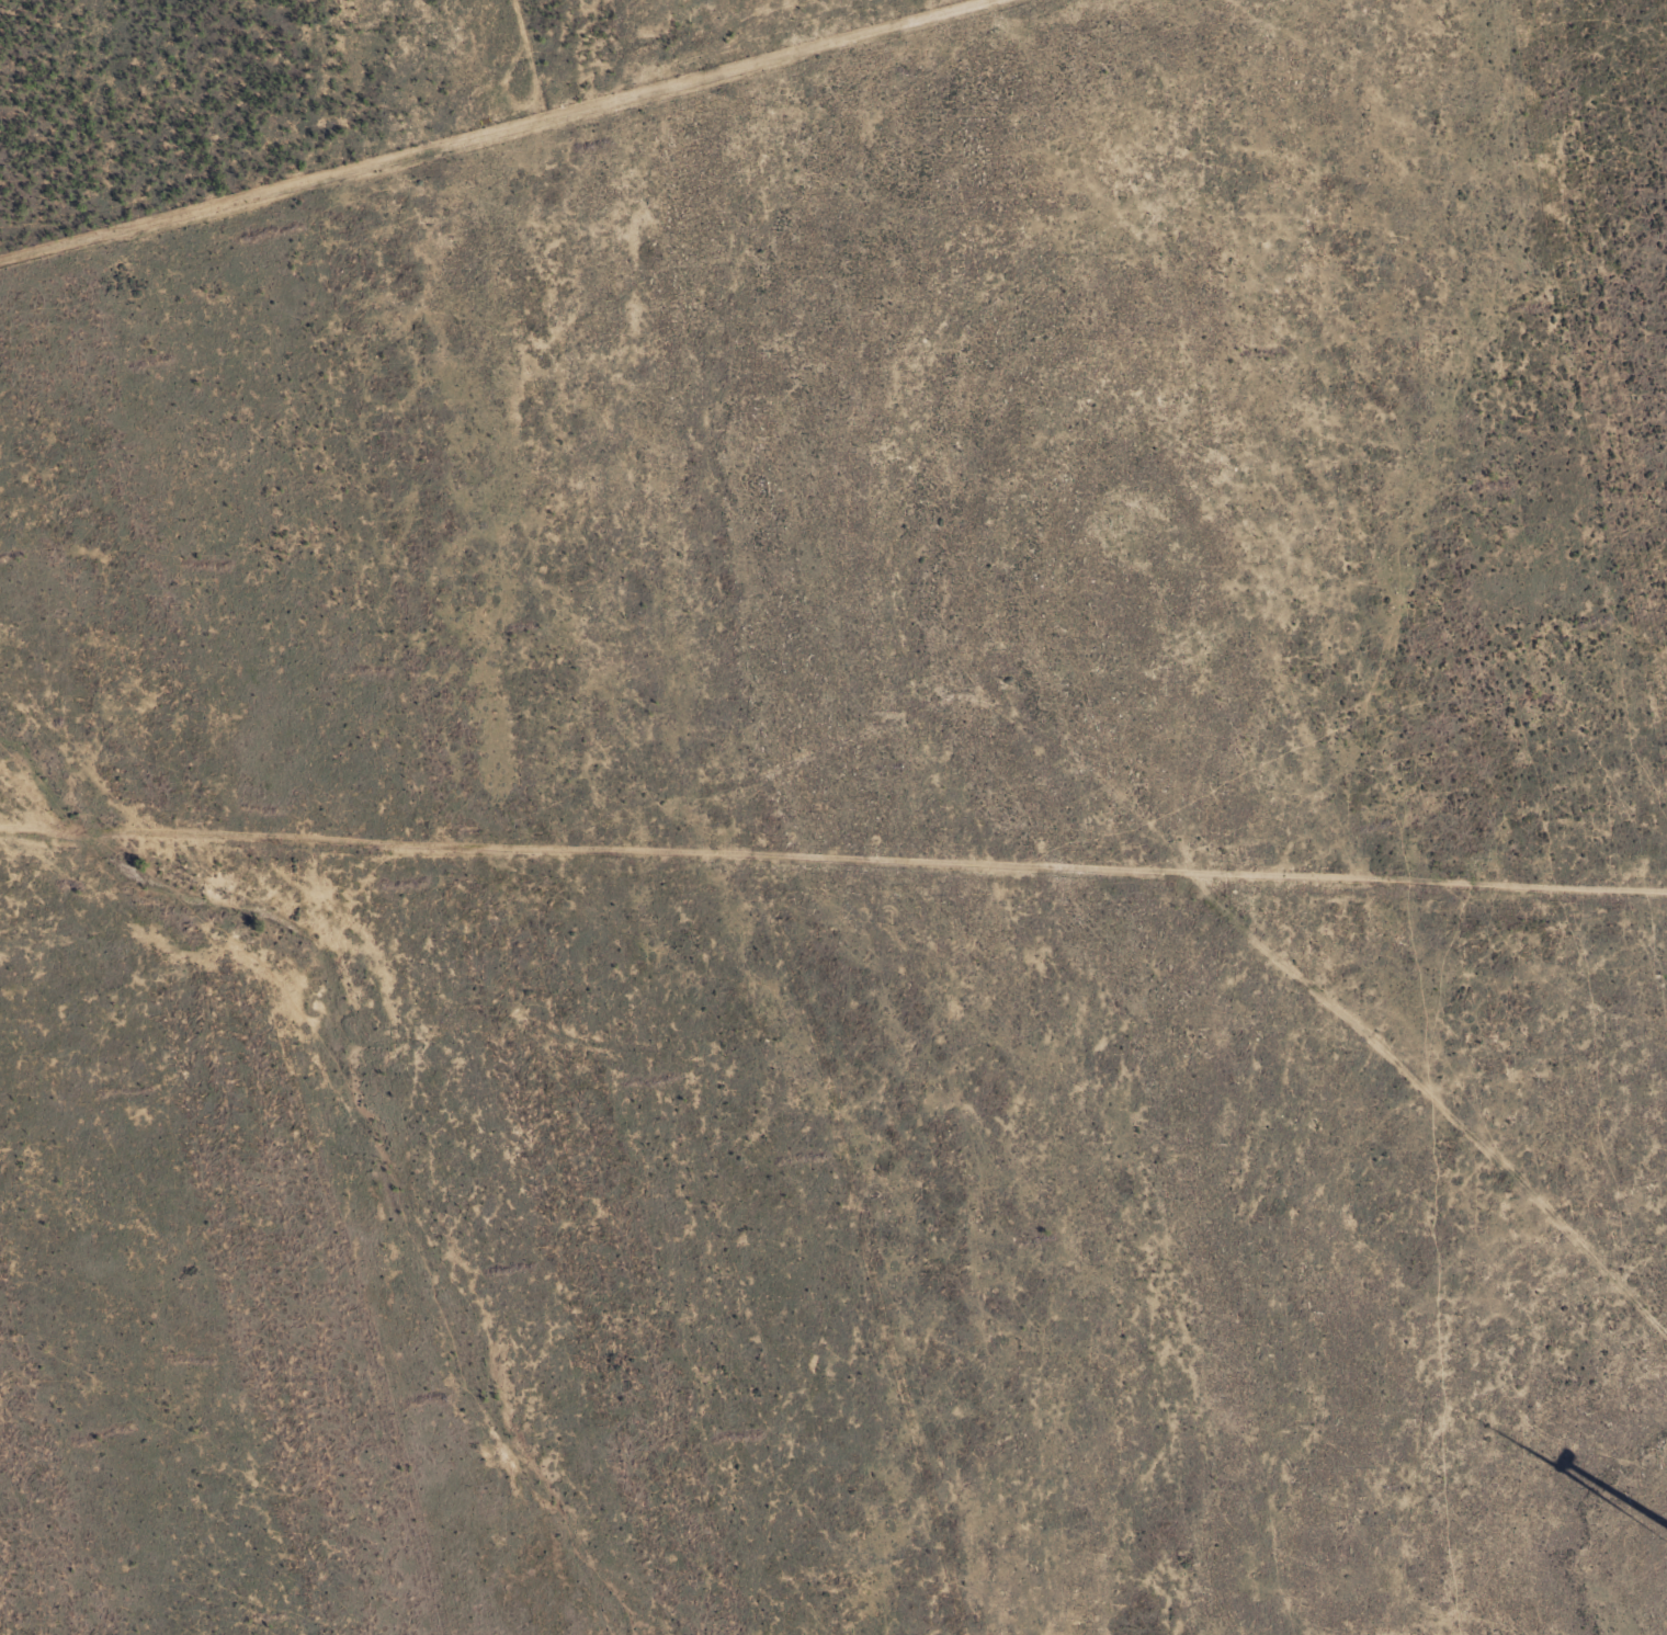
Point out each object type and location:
road: (917, 759)

